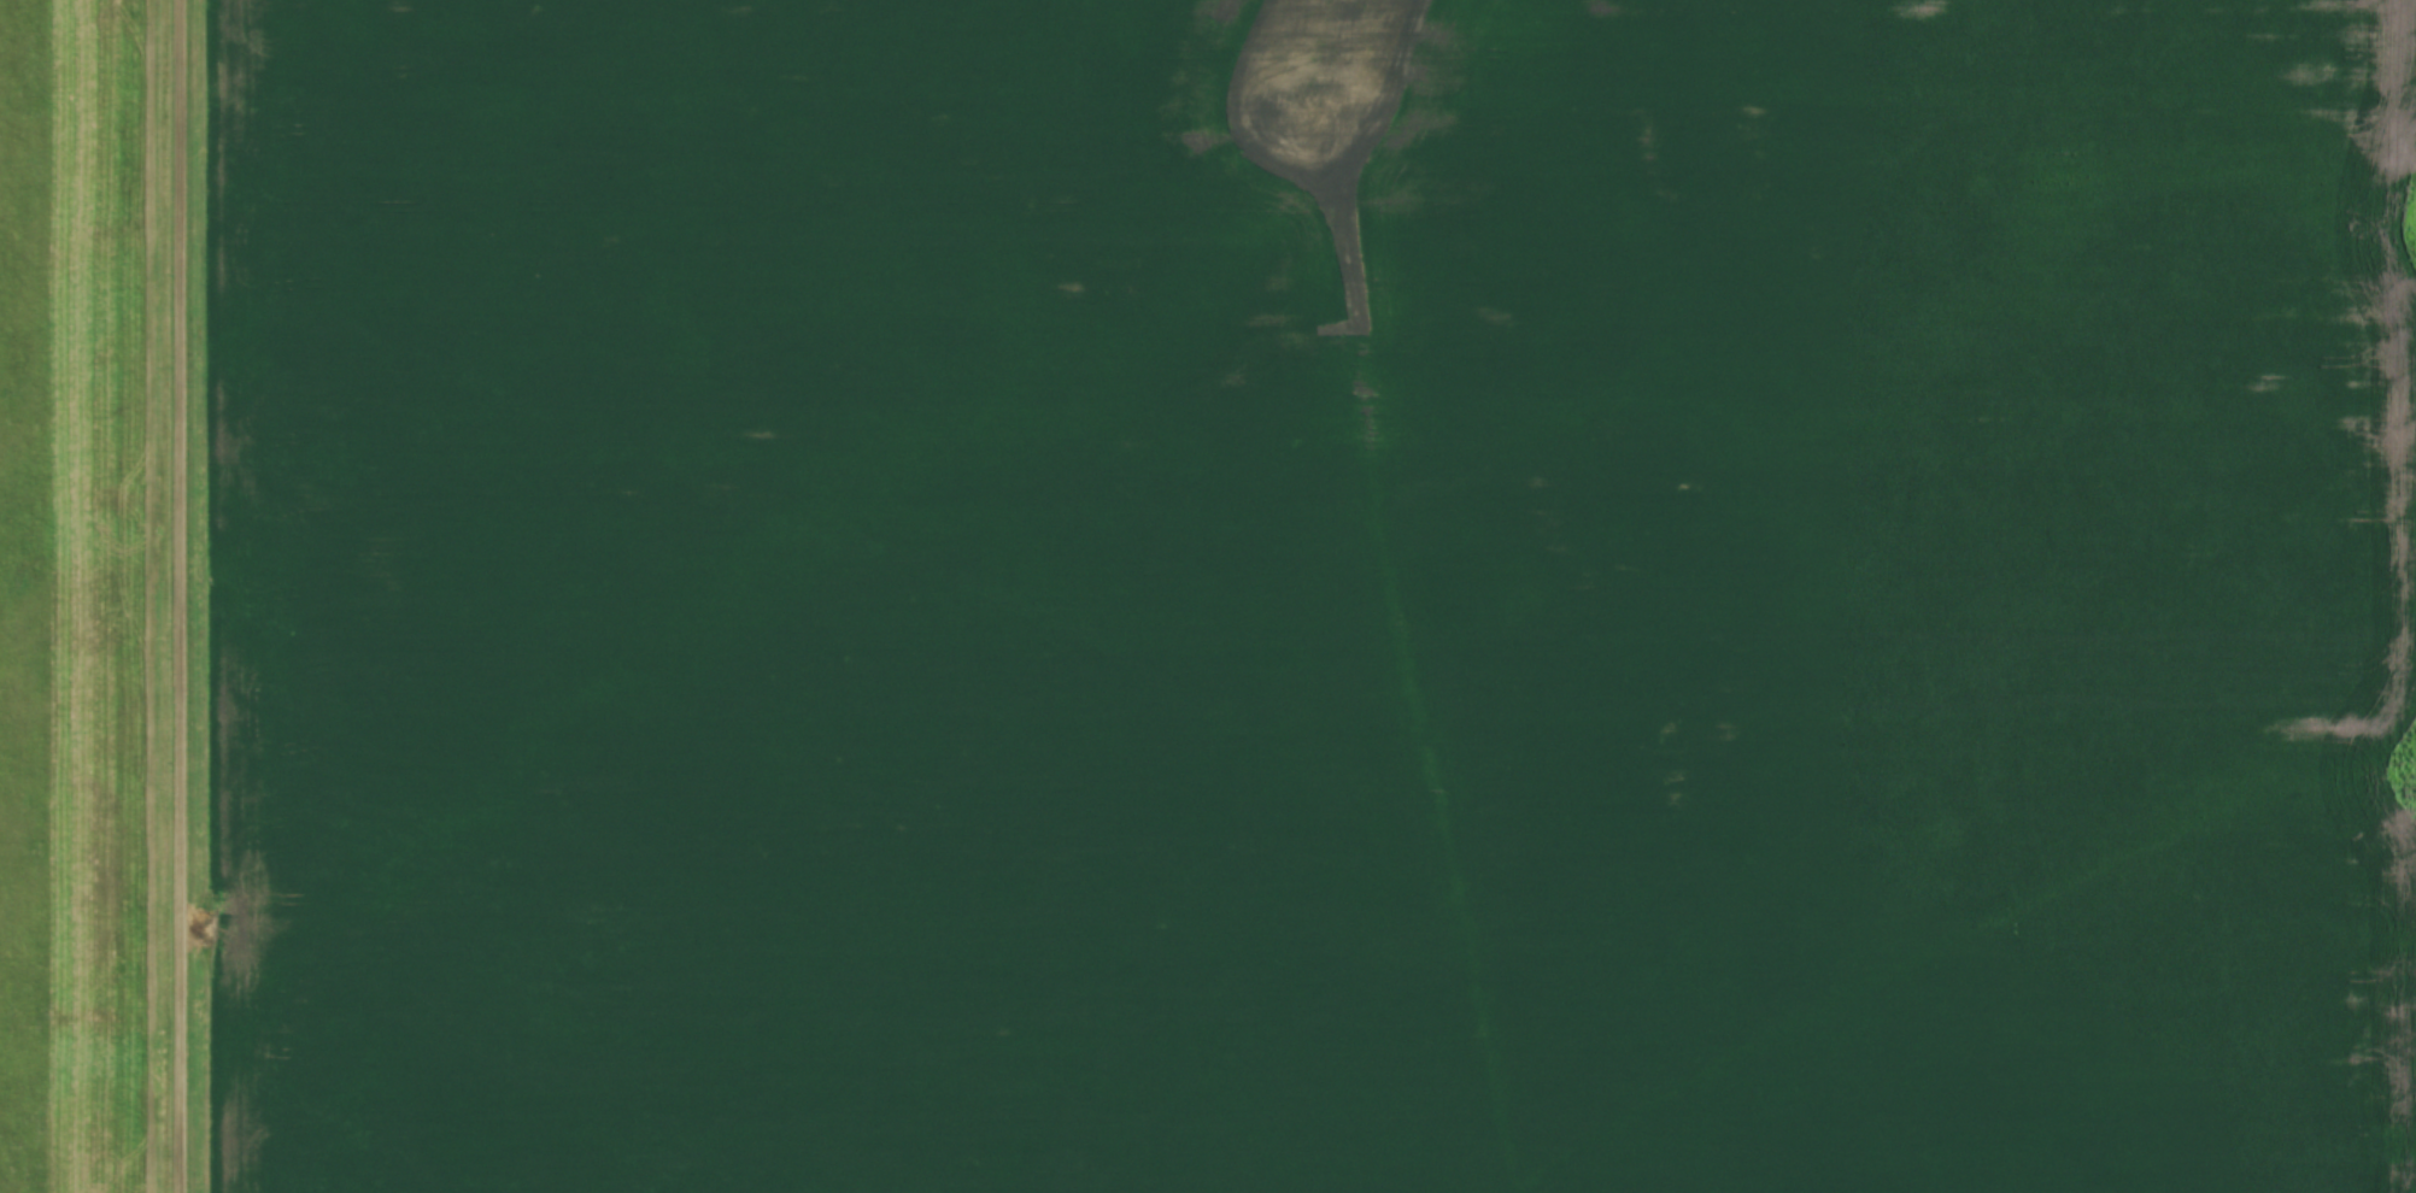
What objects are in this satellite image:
road: (166, 596)

